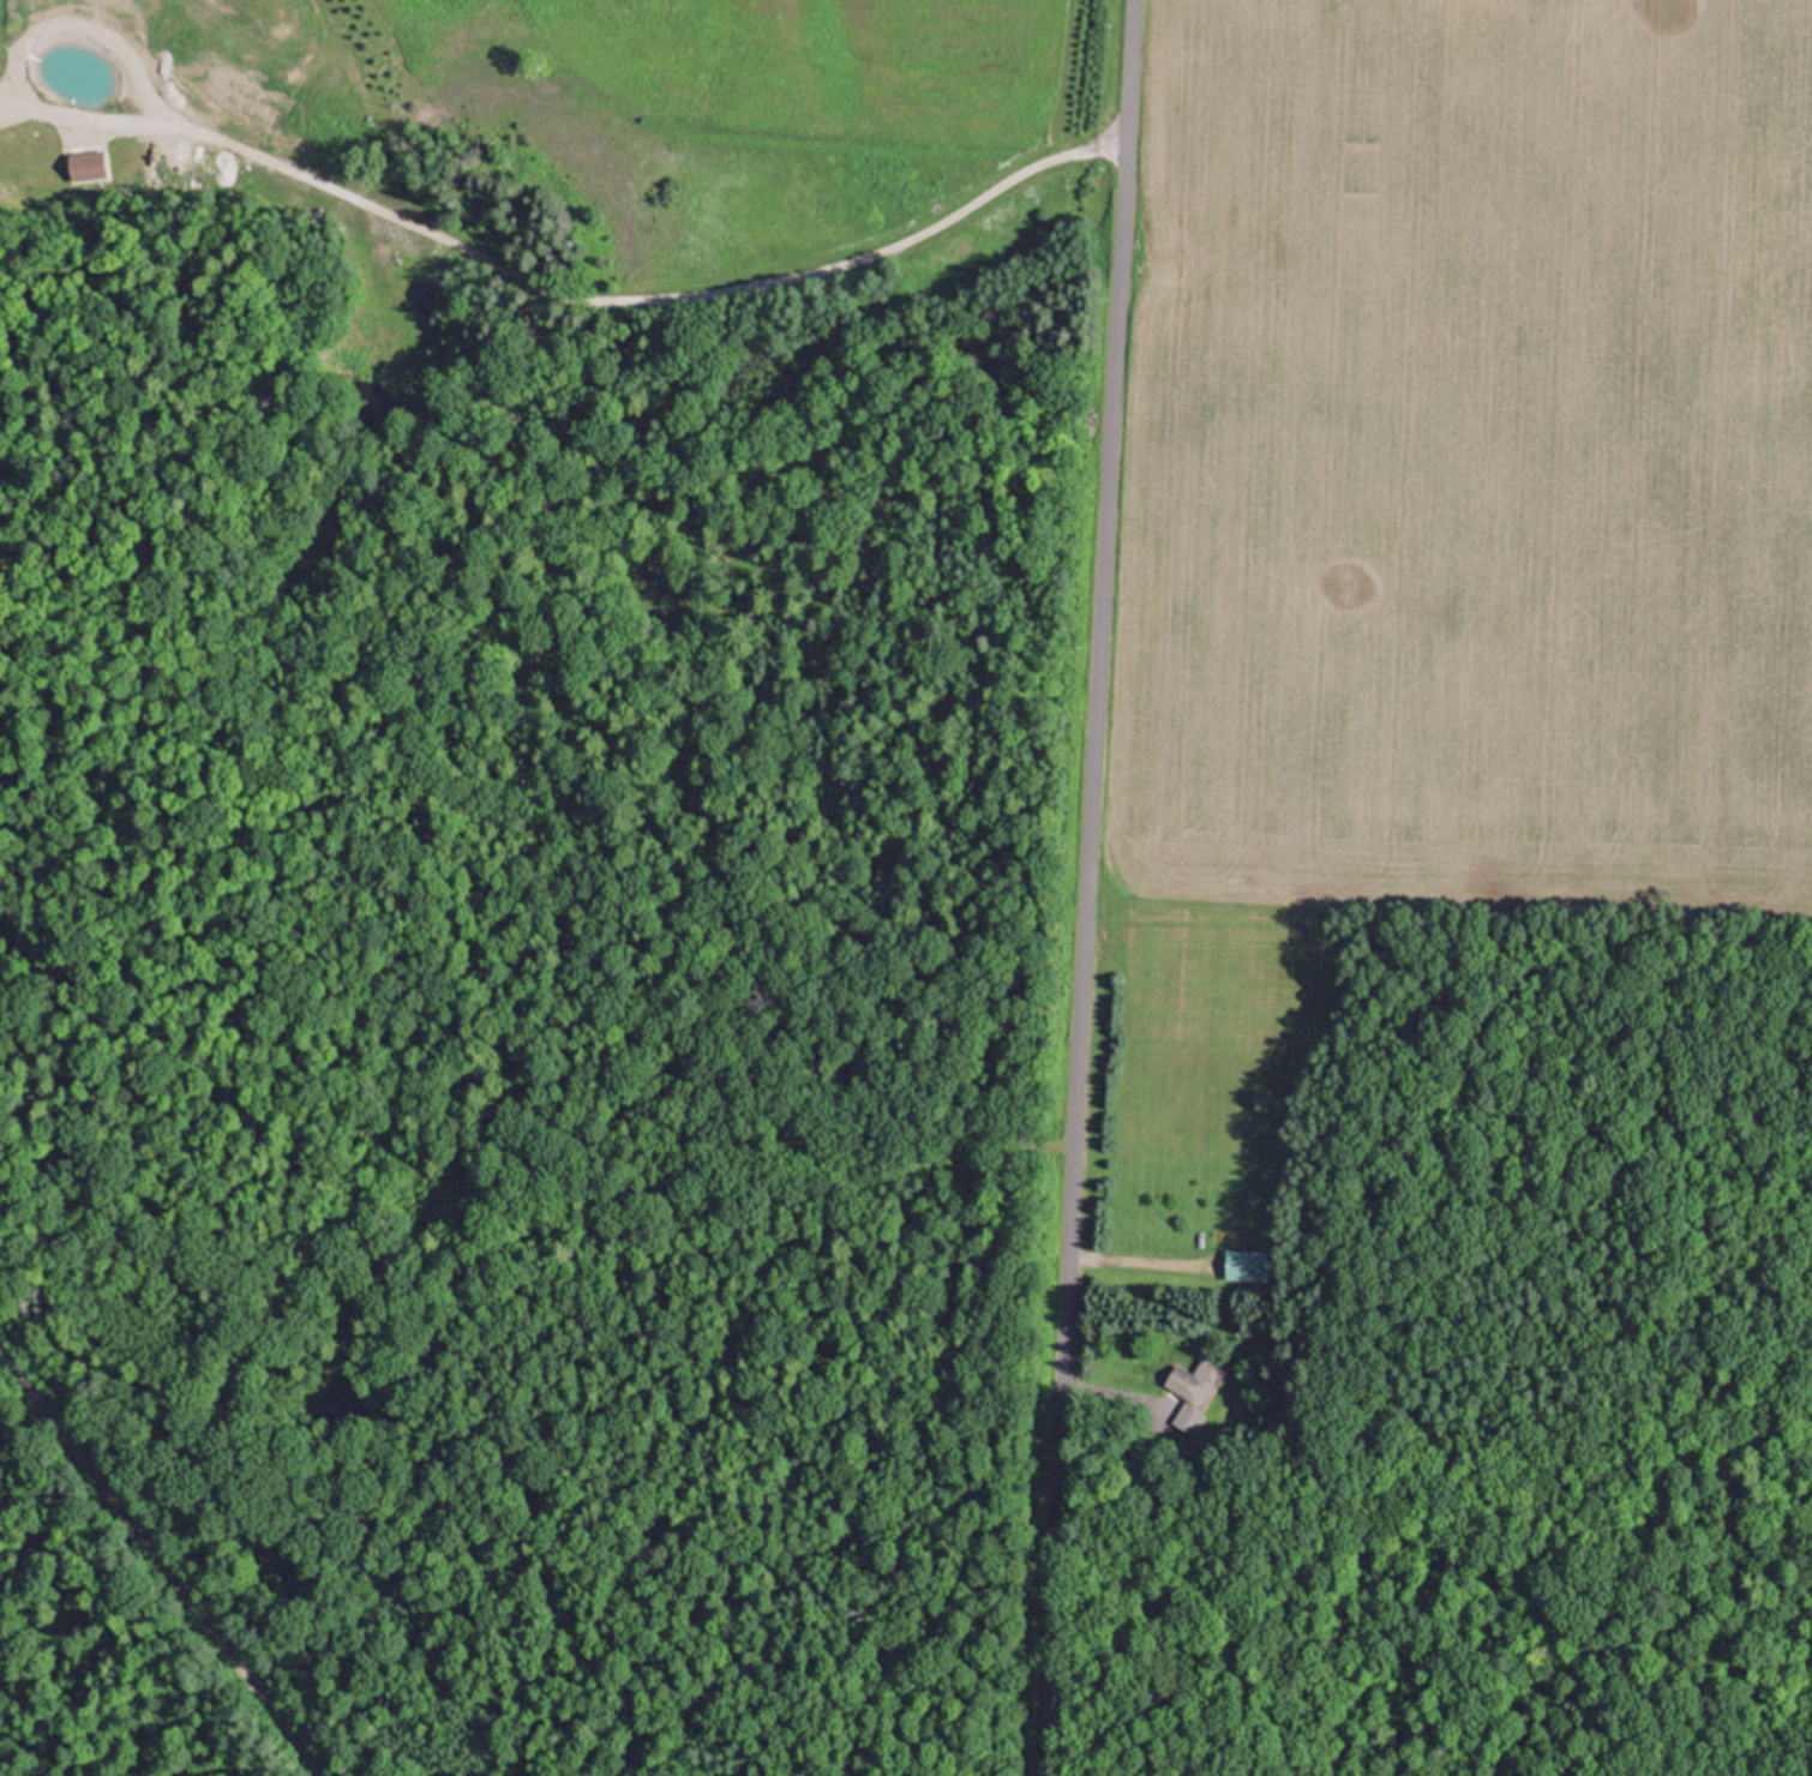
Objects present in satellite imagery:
road: (671, 302)
road: (1082, 888)
road: (1128, 1259)
building: (1243, 1265)
building: (1193, 1380)
road: (1103, 1392)
building: (1184, 1420)
road: (163, 1559)

